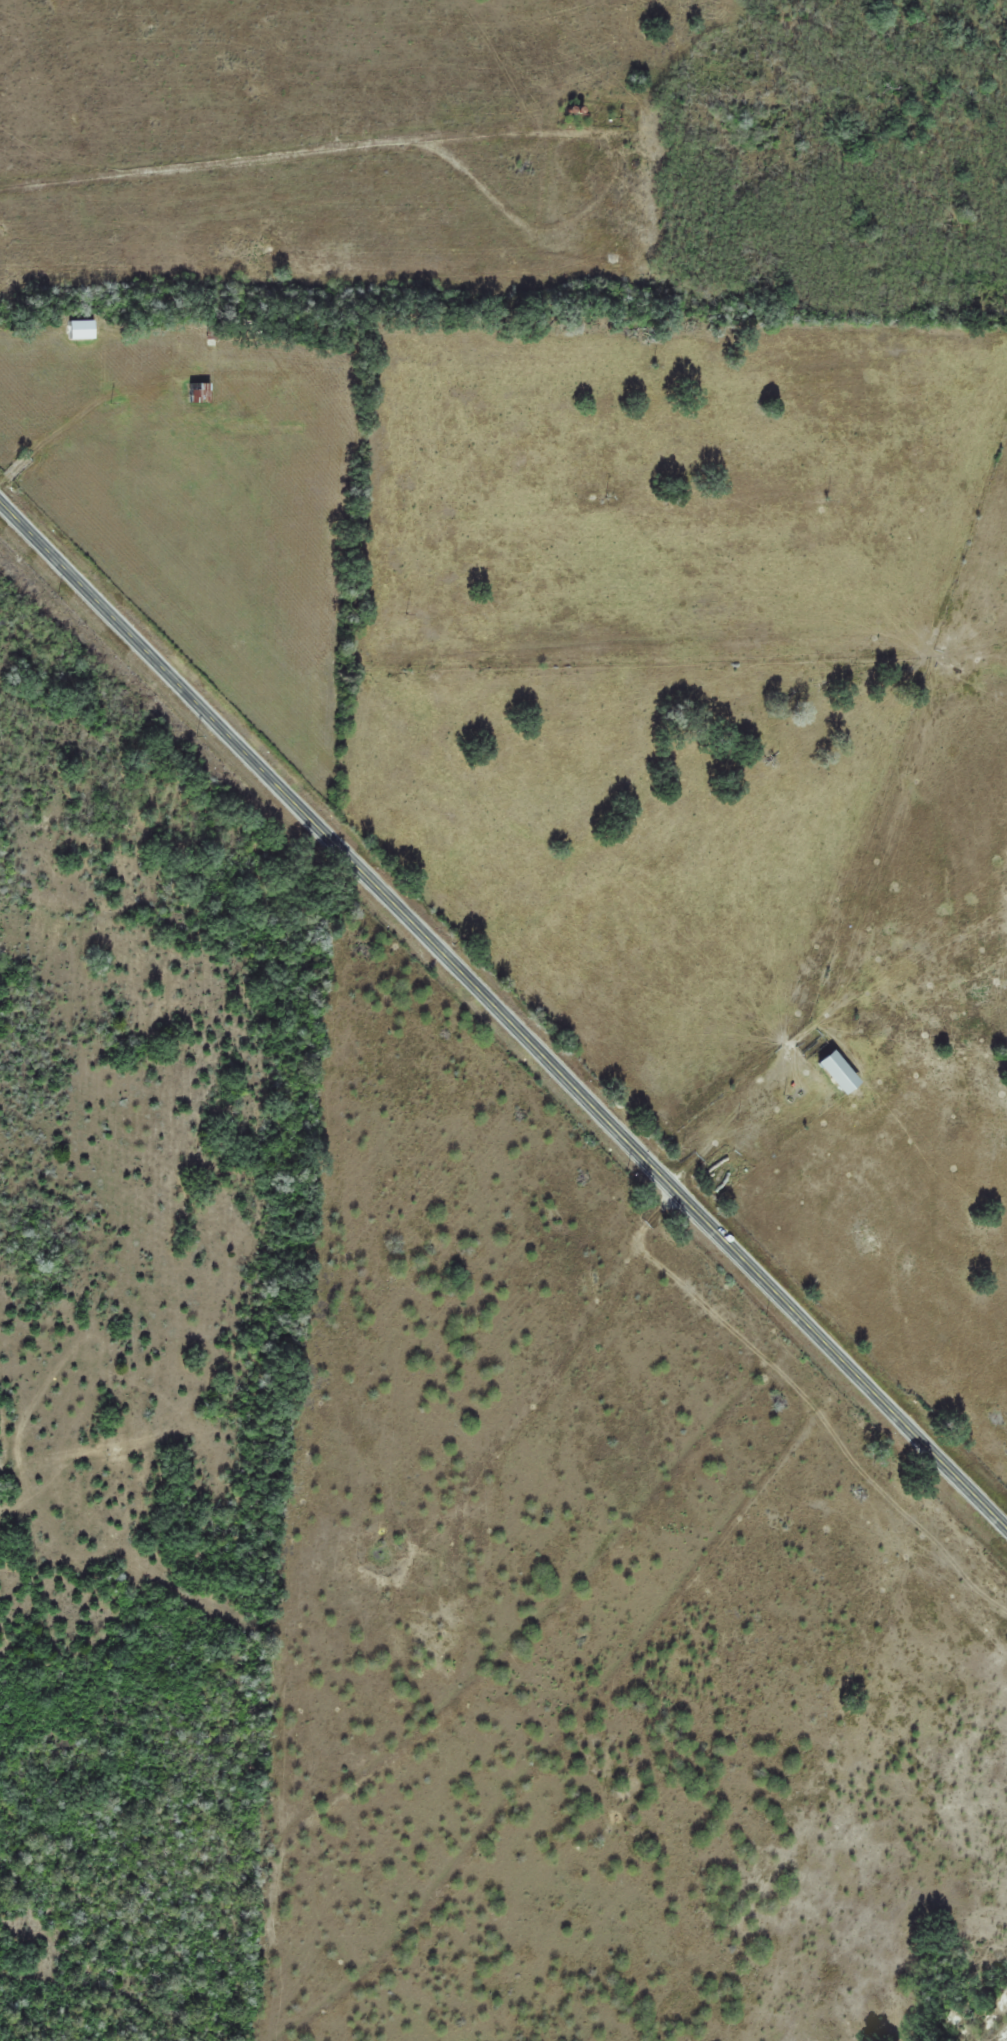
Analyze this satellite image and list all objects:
building: (244, 365)
building: (200, 392)
road: (504, 1013)
building: (832, 1071)

